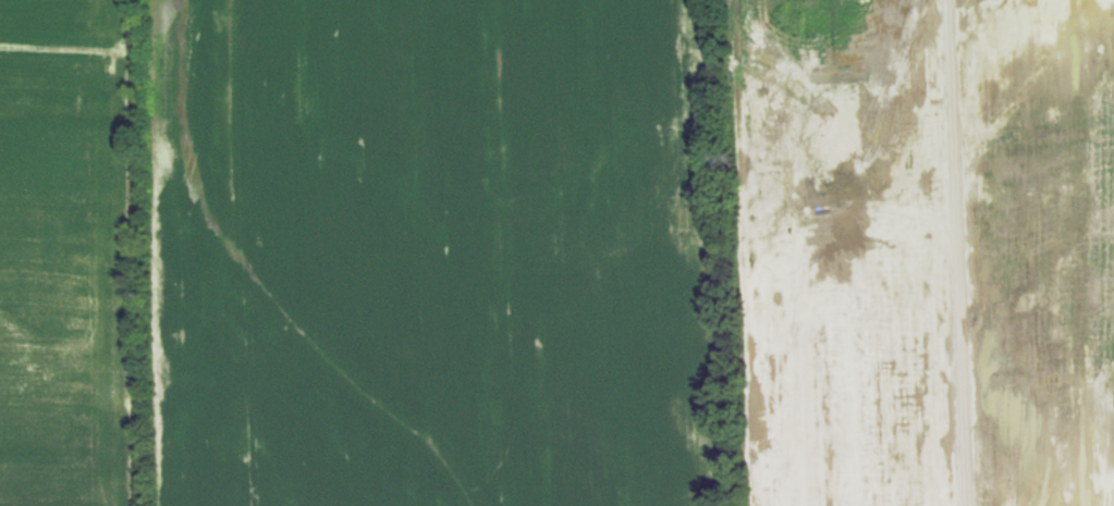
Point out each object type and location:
road: (957, 252)

